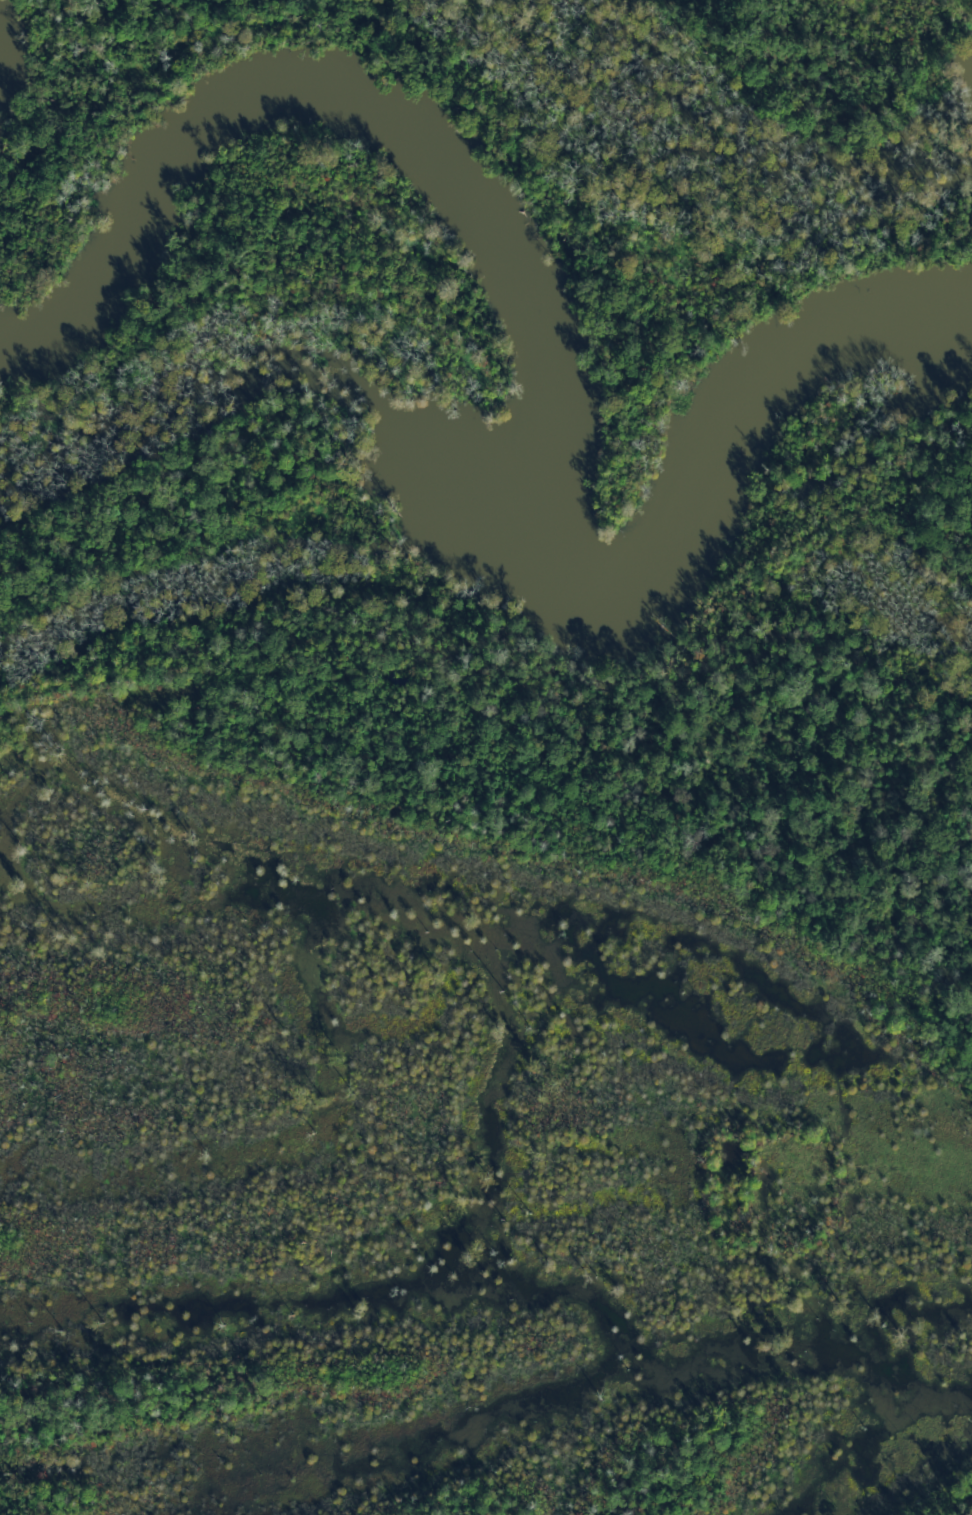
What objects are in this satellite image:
river: (553, 326)

